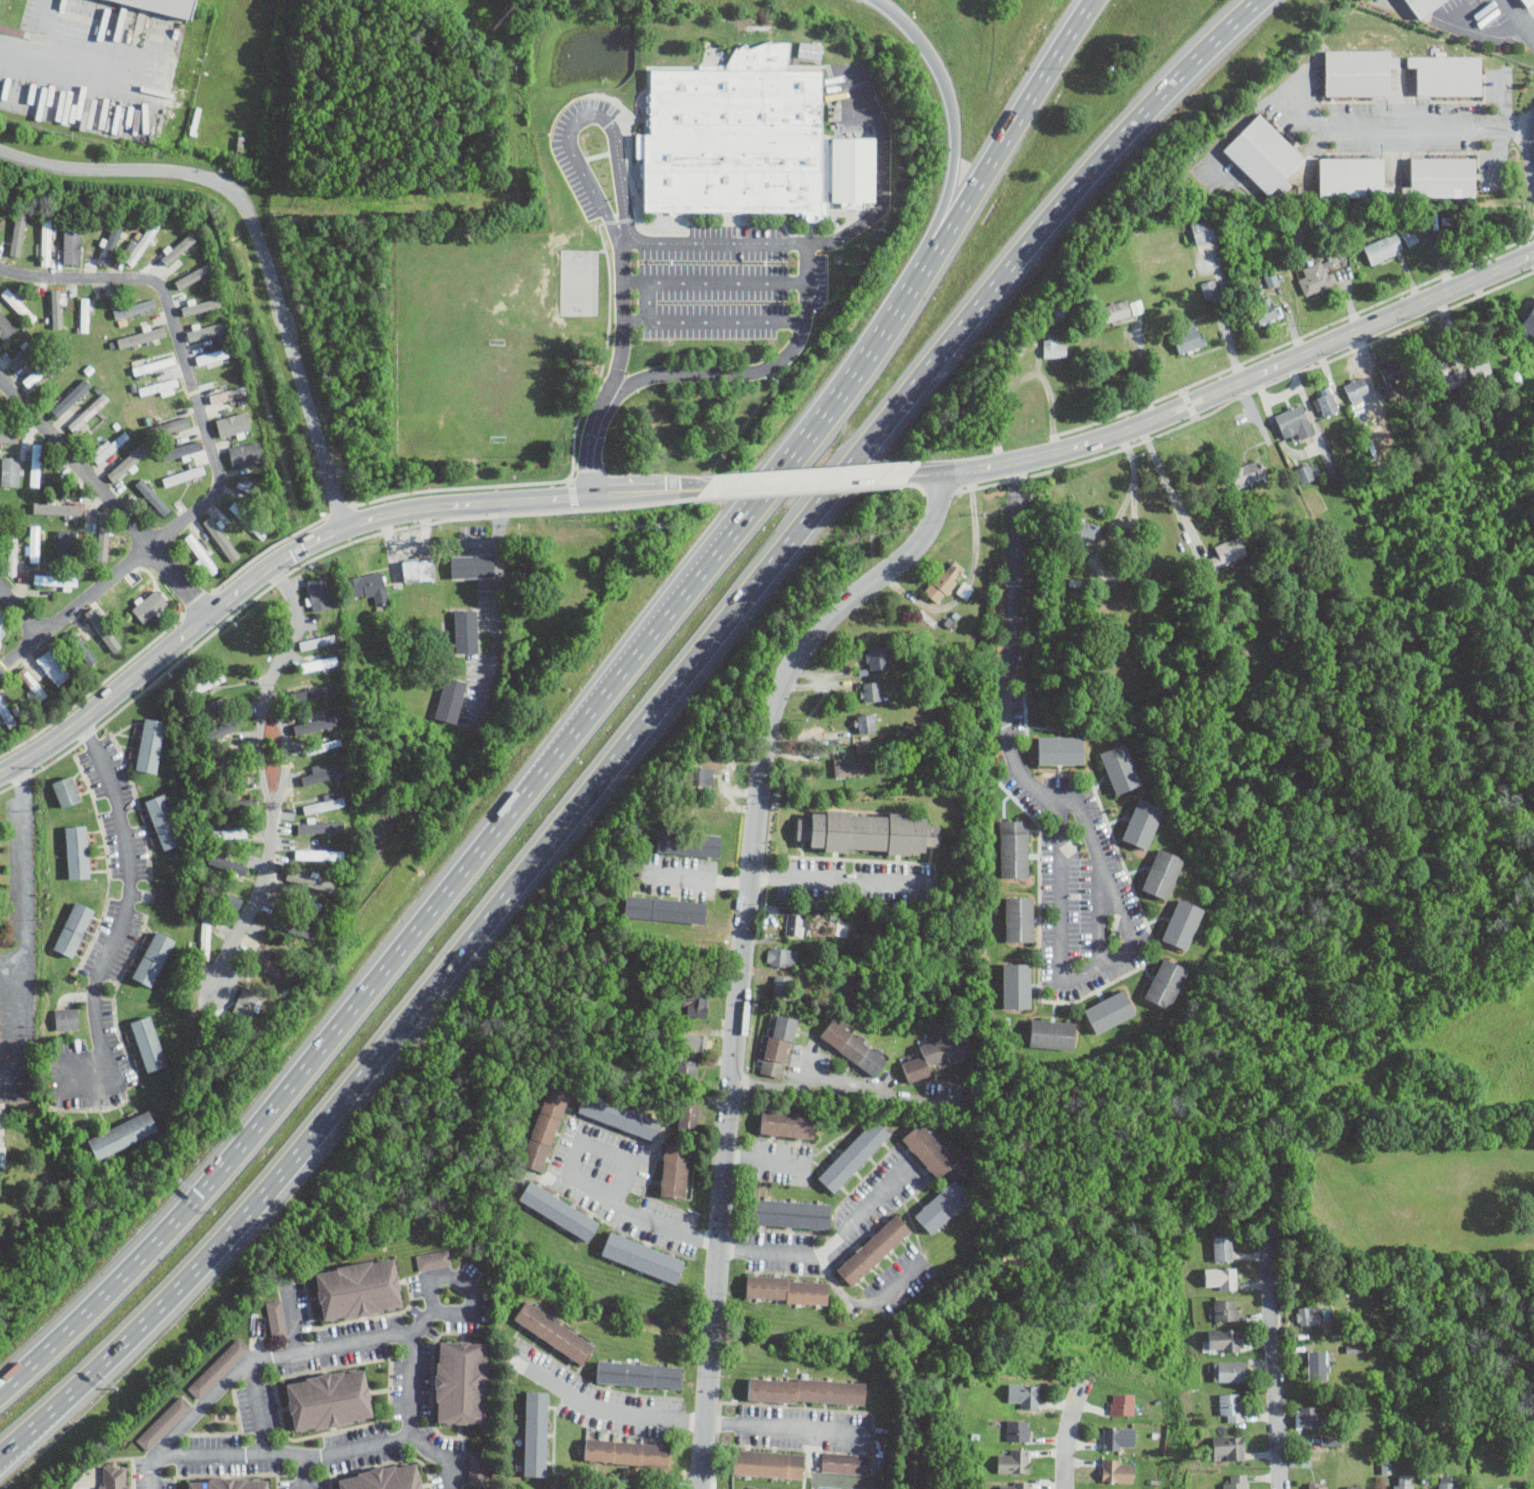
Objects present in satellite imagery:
building: (188, 1)
building: (1524, 1)
building: (1423, 6)
road: (1520, 17)
road: (1221, 35)
building: (810, 50)
road: (74, 60)
building: (1357, 71)
building: (1447, 74)
road: (1507, 105)
road: (954, 116)
road: (1014, 127)
road: (1332, 128)
building: (736, 139)
building: (1264, 155)
road: (1501, 155)
road: (1533, 155)
road: (630, 172)
building: (1352, 177)
building: (1442, 177)
building: (1, 221)
building: (18, 230)
building: (1204, 230)
building: (1410, 236)
road: (260, 240)
building: (46, 241)
road: (822, 241)
building: (111, 243)
building: (140, 244)
building: (72, 246)
building: (1383, 248)
building: (178, 249)
building: (194, 275)
building: (1317, 276)
building: (1275, 277)
road: (717, 279)
building: (1210, 287)
road: (628, 302)
building: (18, 305)
building: (201, 306)
building: (134, 308)
building: (1267, 310)
building: (1116, 311)
building: (85, 314)
road: (717, 320)
building: (1528, 324)
building: (6, 326)
building: (141, 336)
building: (1189, 337)
building: (1055, 347)
building: (22, 356)
building: (212, 356)
road: (1300, 357)
road: (762, 371)
building: (1480, 371)
building: (1393, 373)
building: (1442, 375)
road: (1023, 376)
building: (1456, 378)
building: (160, 386)
building: (1357, 390)
building: (228, 394)
building: (71, 397)
building: (1327, 401)
building: (88, 411)
road: (202, 418)
building: (1295, 422)
building: (173, 424)
building: (8, 435)
building: (109, 447)
building: (245, 453)
building: (128, 462)
building: (35, 464)
road: (994, 469)
building: (10, 470)
building: (1305, 472)
building: (1248, 473)
building: (184, 475)
road: (818, 481)
road: (1171, 490)
road: (653, 492)
road: (106, 495)
building: (152, 496)
building: (57, 508)
building: (237, 508)
road: (736, 530)
building: (1086, 531)
building: (103, 536)
building: (221, 538)
building: (34, 543)
building: (66, 543)
building: (201, 554)
building: (1226, 554)
building: (12, 555)
road: (1134, 564)
building: (471, 566)
building: (418, 570)
road: (268, 571)
building: (55, 579)
building: (945, 580)
building: (368, 586)
building: (965, 589)
building: (319, 593)
road: (21, 609)
road: (495, 613)
building: (1, 622)
building: (466, 630)
building: (317, 641)
road: (22, 652)
building: (87, 655)
building: (877, 657)
building: (319, 663)
building: (53, 666)
building: (209, 682)
building: (33, 684)
building: (871, 691)
building: (317, 692)
building: (450, 698)
building: (216, 705)
building: (5, 710)
building: (867, 722)
building: (317, 724)
building: (150, 744)
building: (329, 744)
road: (626, 748)
building: (1060, 749)
road: (286, 754)
building: (223, 765)
building: (850, 767)
building: (1120, 768)
building: (324, 773)
building: (702, 776)
road: (266, 784)
building: (67, 790)
building: (326, 803)
building: (164, 820)
building: (1142, 822)
building: (320, 827)
building: (868, 831)
building: (228, 833)
road: (1061, 836)
building: (689, 843)
building: (1014, 848)
building: (77, 851)
building: (319, 854)
building: (1163, 873)
road: (700, 878)
road: (840, 878)
building: (311, 881)
building: (665, 909)
road: (1099, 911)
road: (127, 912)
building: (1019, 919)
building: (1182, 923)
building: (796, 924)
building: (74, 928)
building: (843, 928)
building: (206, 930)
road: (28, 931)
road: (743, 948)
building: (782, 957)
building: (154, 958)
building: (270, 965)
building: (1166, 982)
building: (1017, 985)
building: (782, 986)
building: (694, 1002)
building: (1109, 1010)
building: (66, 1018)
building: (1052, 1034)
building: (695, 1041)
building: (148, 1042)
building: (778, 1044)
building: (854, 1045)
building: (935, 1055)
building: (688, 1069)
road: (848, 1089)
road: (276, 1105)
building: (619, 1115)
building: (689, 1115)
building: (788, 1123)
building: (545, 1127)
building: (123, 1135)
building: (929, 1149)
building: (2, 1154)
building: (853, 1154)
road: (769, 1162)
building: (674, 1169)
building: (942, 1205)
building: (559, 1210)
building: (790, 1212)
road: (681, 1232)
building: (1223, 1247)
building: (874, 1249)
building: (643, 1257)
building: (433, 1259)
building: (1220, 1278)
road: (462, 1279)
building: (359, 1287)
building: (787, 1289)
road: (868, 1308)
building: (1224, 1309)
building: (1309, 1314)
building: (276, 1316)
road: (301, 1320)
building: (555, 1330)
building: (1223, 1340)
building: (1317, 1362)
building: (219, 1366)
road: (259, 1366)
road: (1274, 1369)
building: (1229, 1371)
building: (640, 1372)
building: (463, 1380)
road: (603, 1385)
building: (808, 1389)
building: (1023, 1395)
building: (330, 1398)
building: (1123, 1403)
road: (774, 1404)
building: (1231, 1406)
road: (608, 1408)
road: (265, 1410)
building: (1308, 1416)
road: (418, 1420)
building: (164, 1422)
road: (788, 1429)
building: (1017, 1430)
road: (27, 1432)
building: (537, 1432)
building: (1119, 1438)
building: (1329, 1440)
road: (709, 1441)
road: (739, 1443)
road: (1066, 1446)
building: (1229, 1447)
building: (628, 1451)
road: (293, 1453)
building: (1013, 1461)
building: (770, 1462)
building: (845, 1462)
building: (1386, 1464)
building: (477, 1466)
building: (1118, 1470)
road: (312, 1472)
road: (593, 1473)
building: (115, 1477)
building: (385, 1477)
building: (1403, 1481)
building: (1237, 1482)
building: (1447, 1482)
building: (230, 1483)
building: (1015, 1484)
building: (1318, 1485)
building: (1357, 1487)
building: (1497, 1488)

